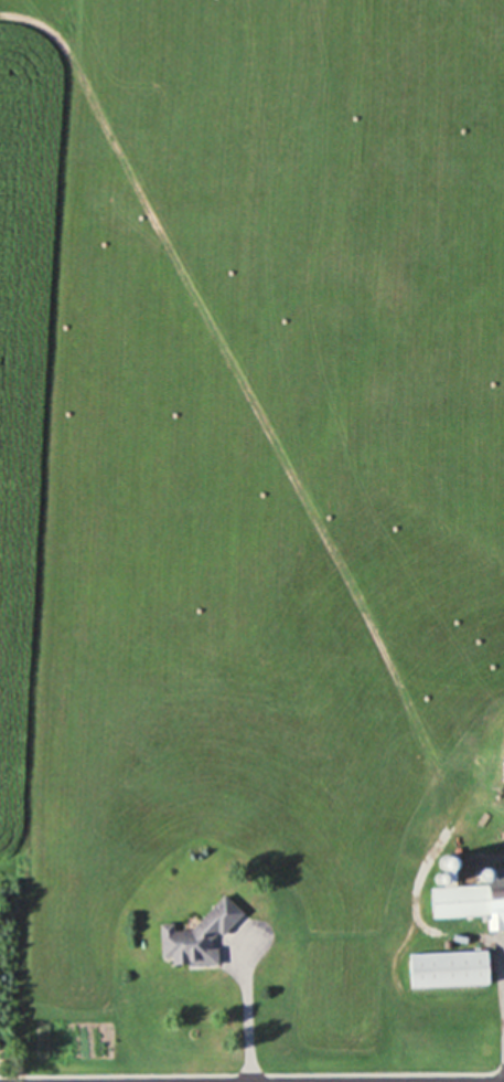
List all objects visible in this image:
building: (469, 900)
building: (196, 935)
building: (446, 968)
road: (245, 1020)
road: (502, 1062)
road: (502, 1081)

